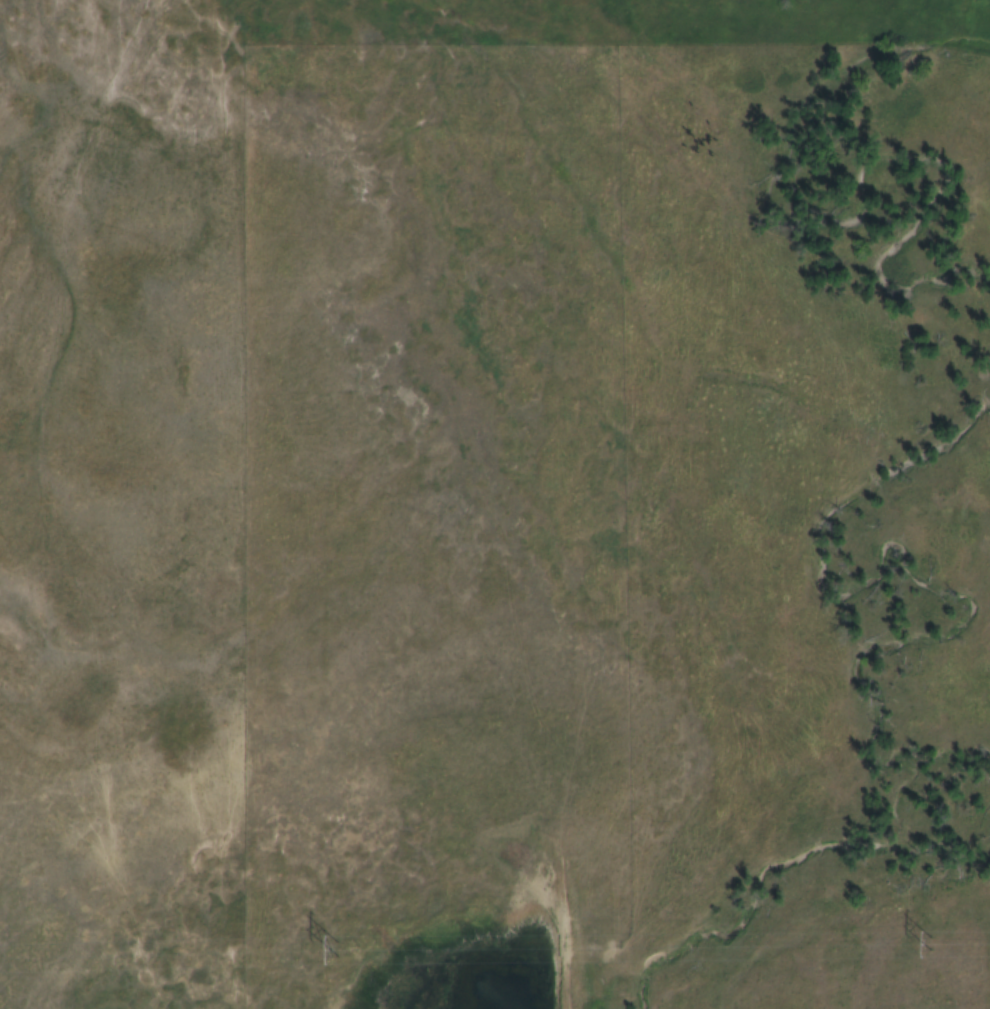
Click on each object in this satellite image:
power tower: (929, 942)
power tower: (334, 948)

